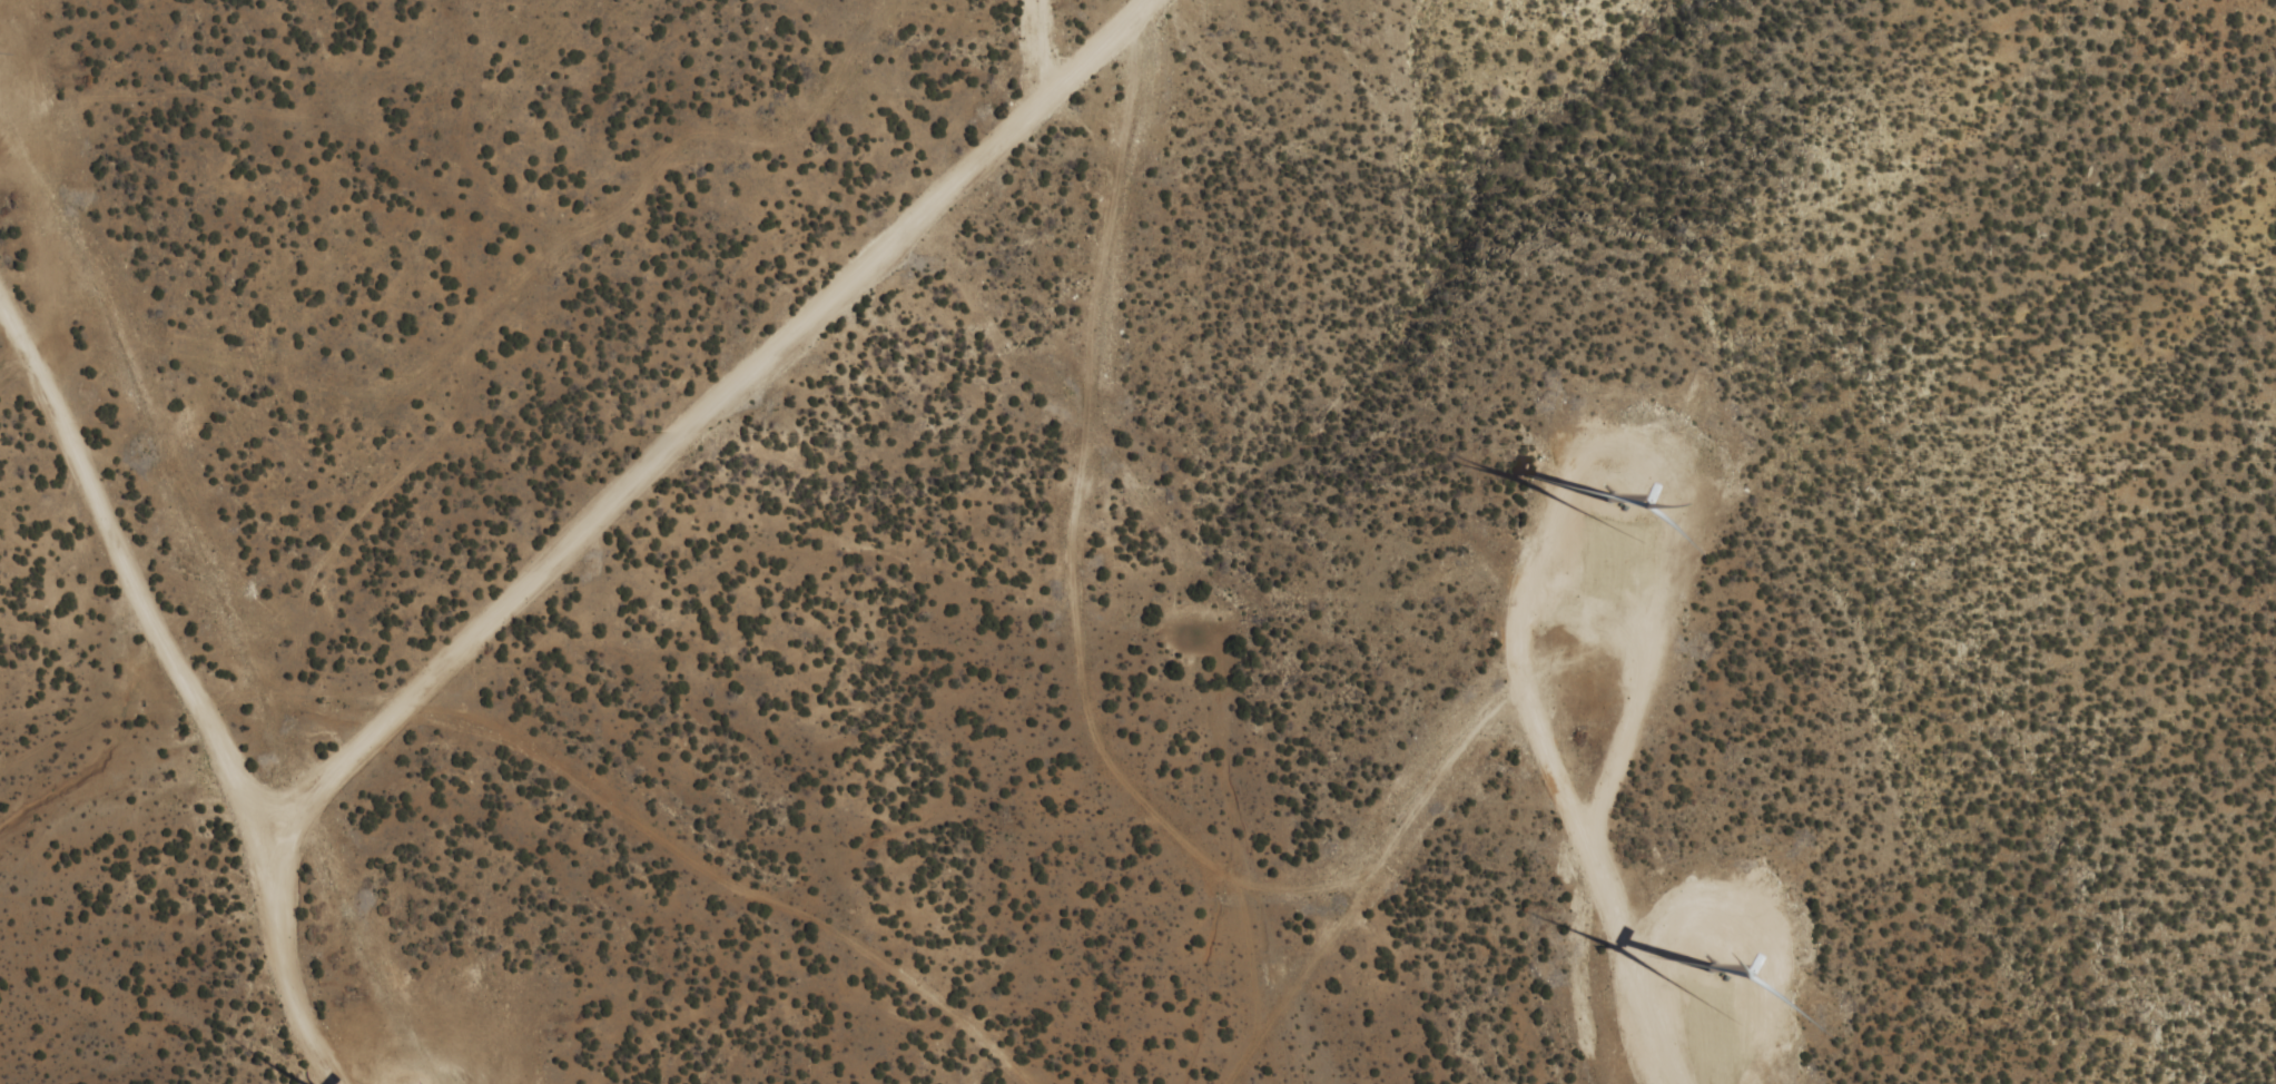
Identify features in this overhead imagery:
wind turbine: (1609, 507)
road: (541, 771)
wind turbine: (1730, 975)

